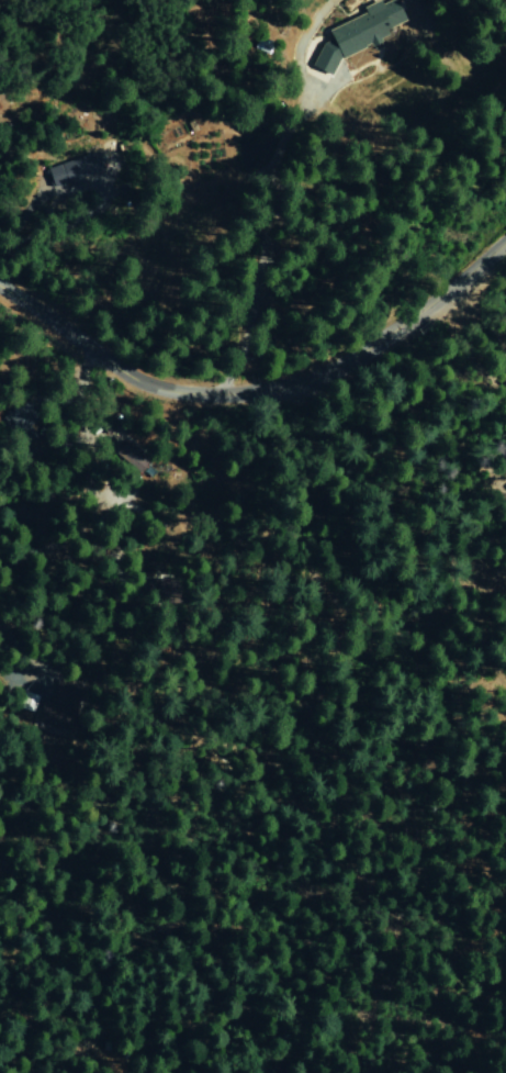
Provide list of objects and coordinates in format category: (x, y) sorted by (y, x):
building: (366, 25)
building: (325, 59)
building: (72, 168)
road: (21, 219)
road: (278, 224)
road: (258, 387)
building: (130, 457)
building: (26, 702)

